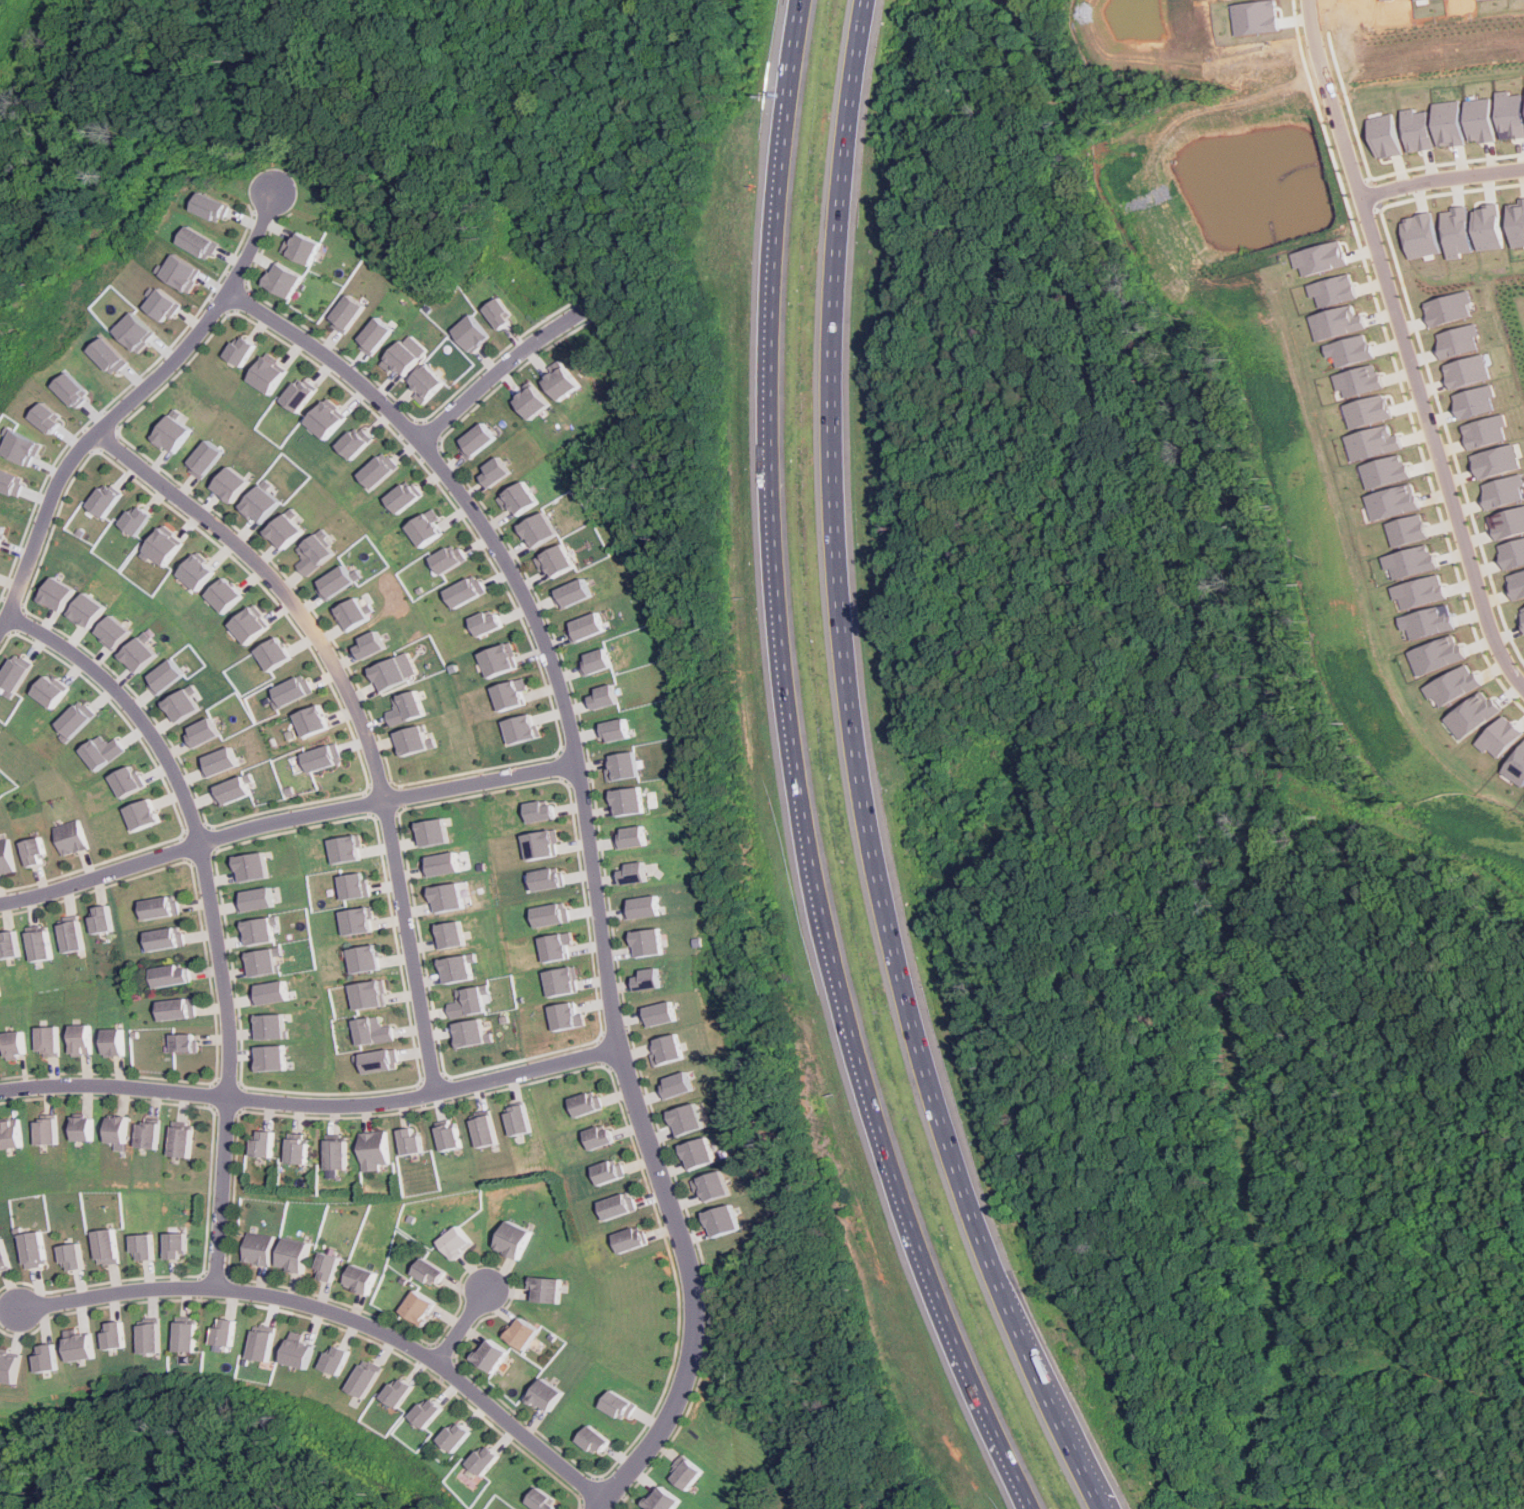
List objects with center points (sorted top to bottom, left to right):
building: (1511, 114)
building: (1482, 119)
building: (1451, 123)
building: (1419, 130)
building: (1387, 135)
road: (1443, 179)
building: (217, 206)
building: (1517, 223)
building: (1489, 227)
building: (1457, 231)
building: (1420, 235)
building: (203, 242)
building: (303, 247)
building: (1323, 258)
building: (185, 272)
building: (285, 280)
building: (1336, 289)
building: (164, 305)
building: (1449, 307)
building: (345, 313)
building: (502, 313)
building: (1339, 322)
building: (137, 331)
building: (473, 333)
building: (373, 335)
building: (1458, 340)
road: (1410, 345)
building: (242, 350)
building: (1354, 350)
building: (112, 355)
building: (403, 355)
building: (1467, 371)
building: (269, 373)
road: (490, 378)
building: (1361, 380)
building: (560, 381)
building: (425, 383)
building: (77, 390)
building: (300, 394)
building: (1474, 400)
building: (530, 401)
road: (128, 404)
building: (1370, 410)
building: (53, 418)
building: (326, 419)
building: (1484, 430)
building: (174, 431)
building: (476, 440)
building: (355, 441)
building: (1375, 442)
building: (28, 445)
building: (205, 458)
building: (1495, 461)
building: (378, 469)
building: (494, 471)
building: (1387, 471)
building: (13, 480)
building: (232, 483)
building: (1502, 490)
building: (403, 496)
building: (516, 498)
building: (109, 499)
building: (1395, 501)
building: (261, 504)
building: (140, 519)
building: (1507, 522)
building: (424, 527)
building: (1409, 529)
building: (535, 530)
building: (286, 531)
building: (3, 534)
building: (166, 546)
building: (315, 551)
building: (1512, 552)
building: (448, 558)
building: (552, 560)
building: (1412, 561)
building: (199, 571)
building: (334, 582)
building: (1516, 584)
building: (464, 590)
building: (1421, 591)
building: (59, 593)
building: (568, 593)
building: (226, 594)
building: (89, 610)
building: (354, 611)
building: (1522, 611)
building: (1432, 620)
building: (485, 622)
building: (251, 624)
building: (582, 626)
building: (114, 632)
building: (369, 644)
building: (139, 652)
building: (274, 653)
building: (1439, 654)
building: (497, 658)
building: (592, 662)
building: (392, 671)
building: (15, 675)
building: (164, 676)
building: (1456, 684)
building: (292, 689)
building: (49, 691)
building: (508, 693)
building: (600, 696)
building: (181, 704)
building: (404, 707)
road: (357, 713)
building: (1475, 714)
building: (75, 720)
building: (311, 720)
building: (520, 728)
building: (612, 730)
building: (201, 732)
building: (1501, 736)
building: (412, 739)
building: (101, 750)
building: (322, 757)
building: (217, 761)
building: (621, 766)
building: (1517, 766)
road: (793, 772)
road: (858, 774)
building: (126, 780)
building: (229, 790)
building: (625, 801)
building: (538, 811)
building: (141, 813)
road: (283, 822)
building: (431, 832)
building: (630, 836)
building: (70, 837)
building: (539, 844)
building: (343, 848)
building: (34, 851)
road: (588, 852)
building: (6, 855)
building: (439, 863)
building: (248, 866)
building: (633, 872)
building: (545, 878)
building: (352, 885)
building: (444, 897)
building: (253, 899)
building: (642, 906)
building: (158, 907)
road: (211, 914)
building: (550, 914)
building: (100, 919)
building: (355, 920)
building: (259, 929)
building: (446, 934)
building: (70, 935)
building: (164, 938)
building: (647, 941)
building: (9, 944)
building: (39, 945)
building: (554, 946)
building: (363, 958)
building: (263, 961)
building: (454, 967)
building: (170, 974)
building: (649, 979)
building: (560, 980)
building: (269, 992)
building: (367, 994)
building: (469, 999)
building: (177, 1008)
building: (661, 1014)
building: (564, 1016)
building: (269, 1026)
building: (371, 1030)
building: (467, 1033)
building: (81, 1039)
building: (49, 1041)
building: (114, 1042)
building: (185, 1042)
building: (16, 1045)
building: (670, 1049)
building: (270, 1057)
building: (374, 1060)
building: (679, 1085)
building: (584, 1103)
road: (312, 1106)
building: (512, 1119)
building: (689, 1119)
building: (83, 1129)
building: (117, 1130)
building: (479, 1130)
building: (47, 1131)
building: (12, 1133)
building: (148, 1135)
building: (444, 1136)
building: (596, 1137)
building: (405, 1141)
building: (179, 1142)
building: (261, 1143)
building: (295, 1150)
building: (370, 1151)
building: (701, 1153)
building: (333, 1154)
building: (607, 1171)
building: (713, 1185)
building: (615, 1206)
building: (723, 1220)
building: (627, 1239)
building: (507, 1240)
building: (451, 1241)
building: (106, 1246)
building: (174, 1246)
building: (142, 1247)
building: (36, 1249)
building: (256, 1249)
building: (289, 1254)
building: (5, 1255)
building: (72, 1257)
building: (325, 1267)
building: (425, 1272)
building: (357, 1279)
building: (539, 1290)
building: (414, 1307)
road: (343, 1316)
road: (459, 1326)
building: (225, 1332)
building: (517, 1333)
building: (115, 1335)
building: (187, 1337)
building: (150, 1338)
building: (263, 1342)
building: (83, 1347)
building: (298, 1350)
building: (487, 1355)
building: (50, 1358)
building: (335, 1359)
building: (11, 1366)
building: (365, 1377)
building: (399, 1390)
building: (546, 1395)
building: (622, 1405)
building: (429, 1411)
building: (459, 1436)
building: (596, 1440)
building: (489, 1458)
building: (689, 1474)
building: (546, 1500)
building: (665, 1500)

